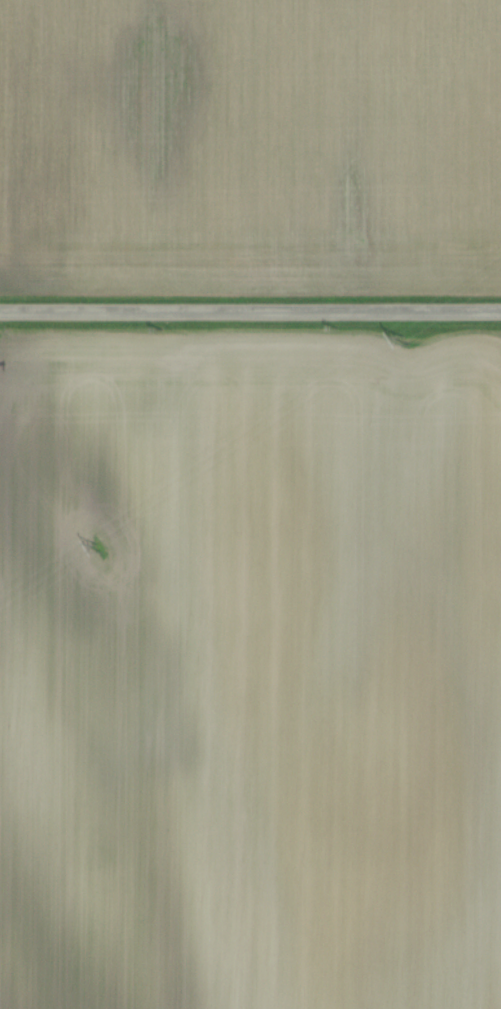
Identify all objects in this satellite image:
road: (250, 309)

